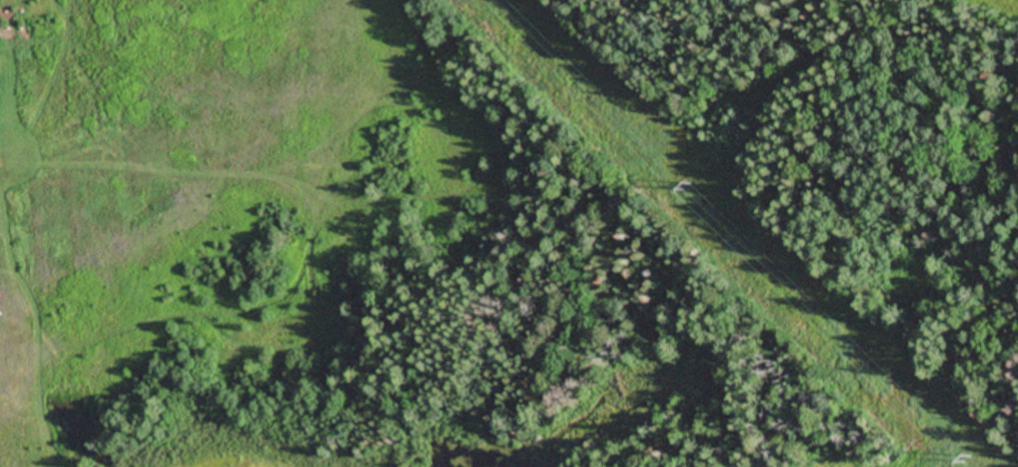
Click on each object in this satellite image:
power tower: (687, 187)
power tower: (965, 460)

